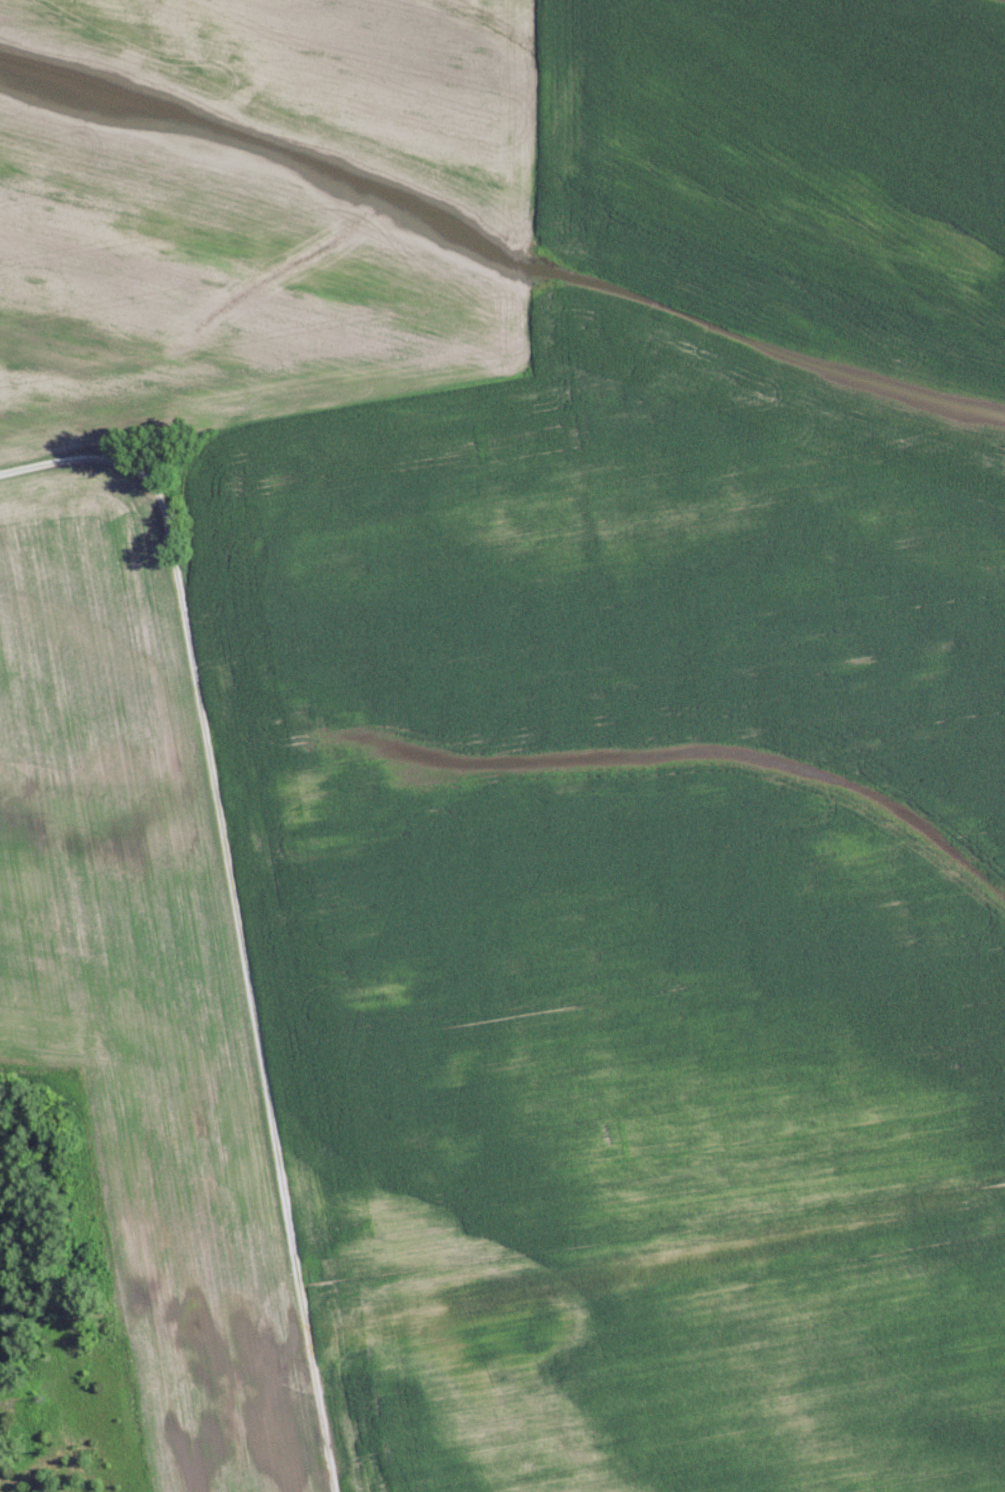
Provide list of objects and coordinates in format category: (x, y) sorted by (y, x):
road: (231, 904)

